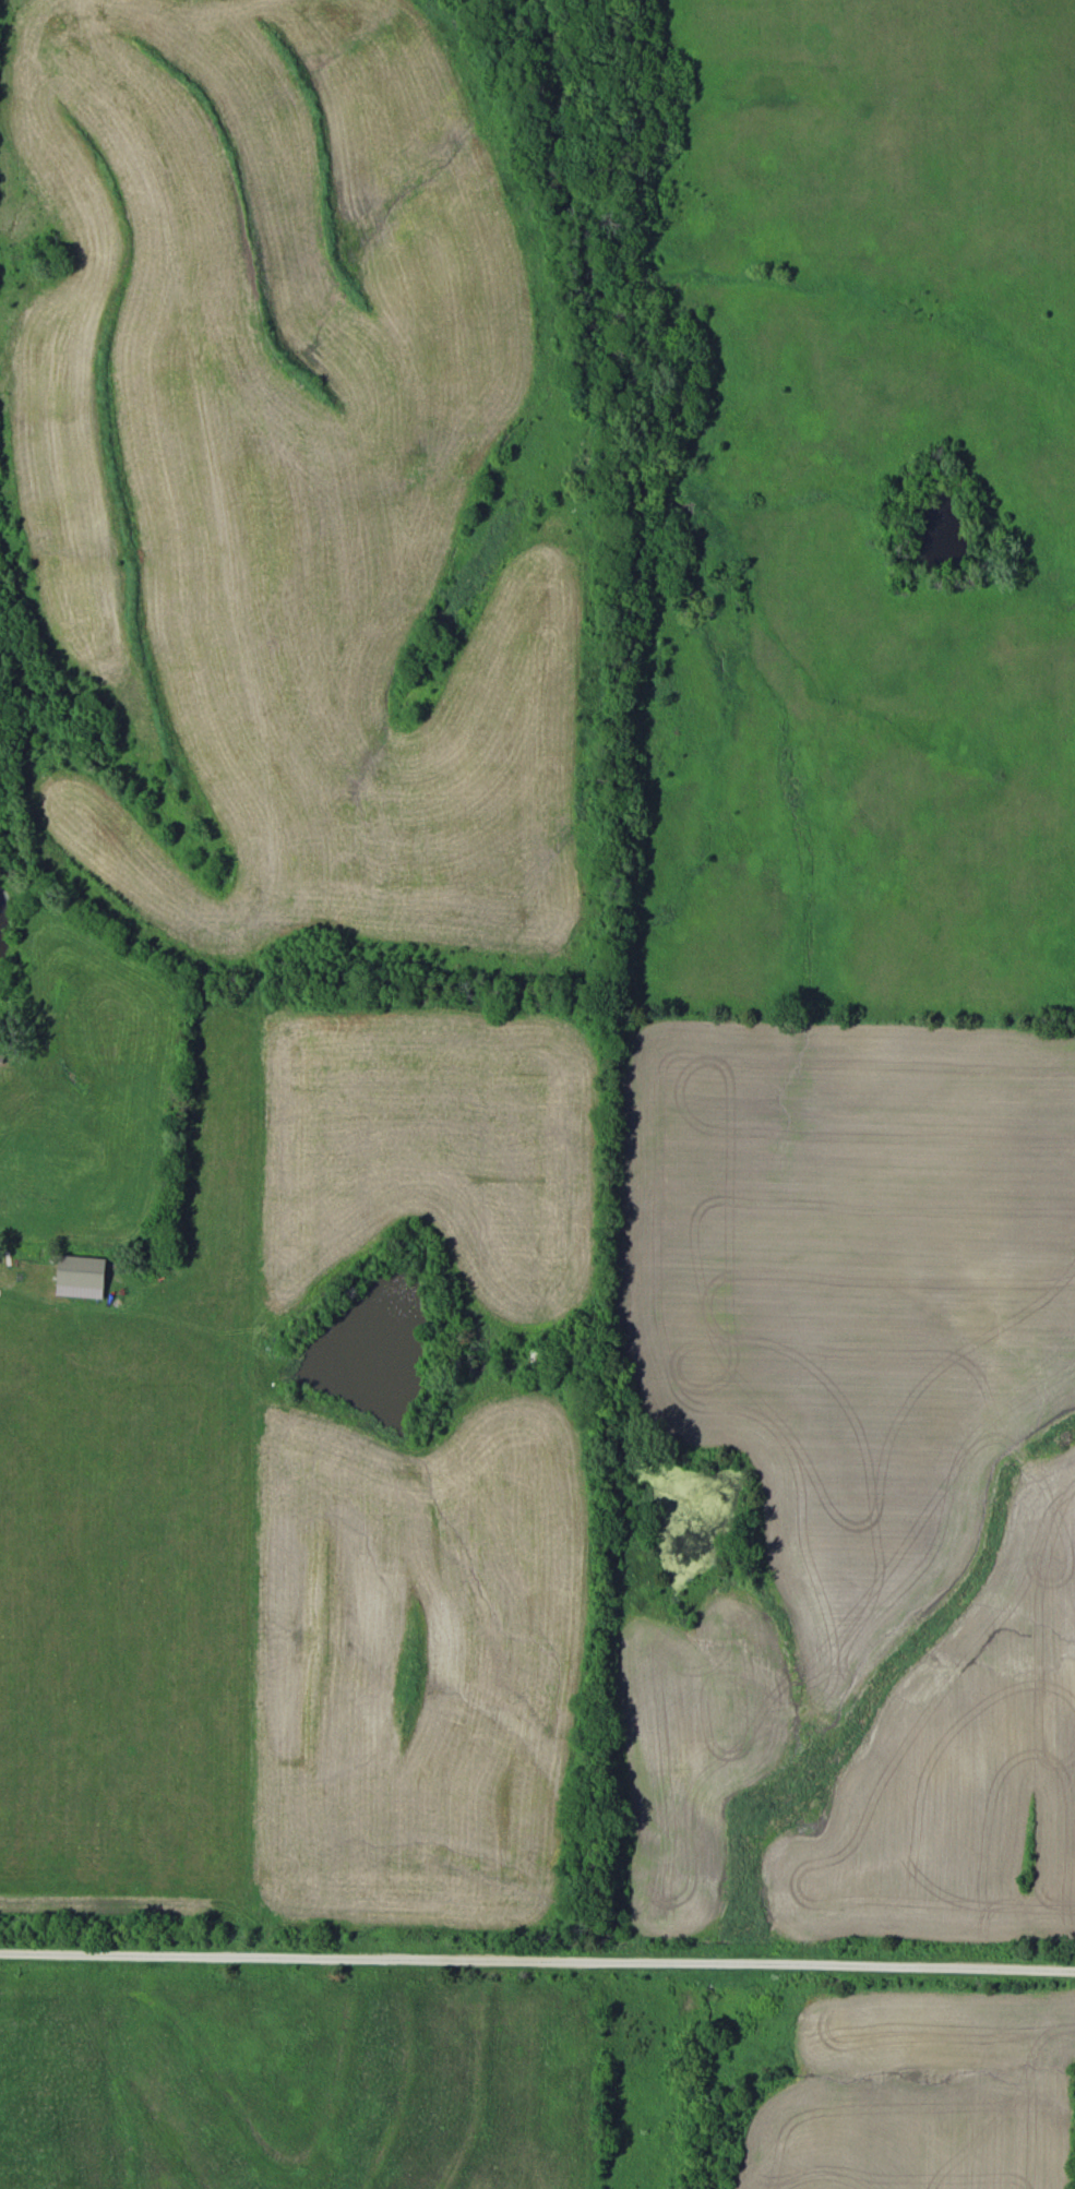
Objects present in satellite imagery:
road: (537, 2018)

